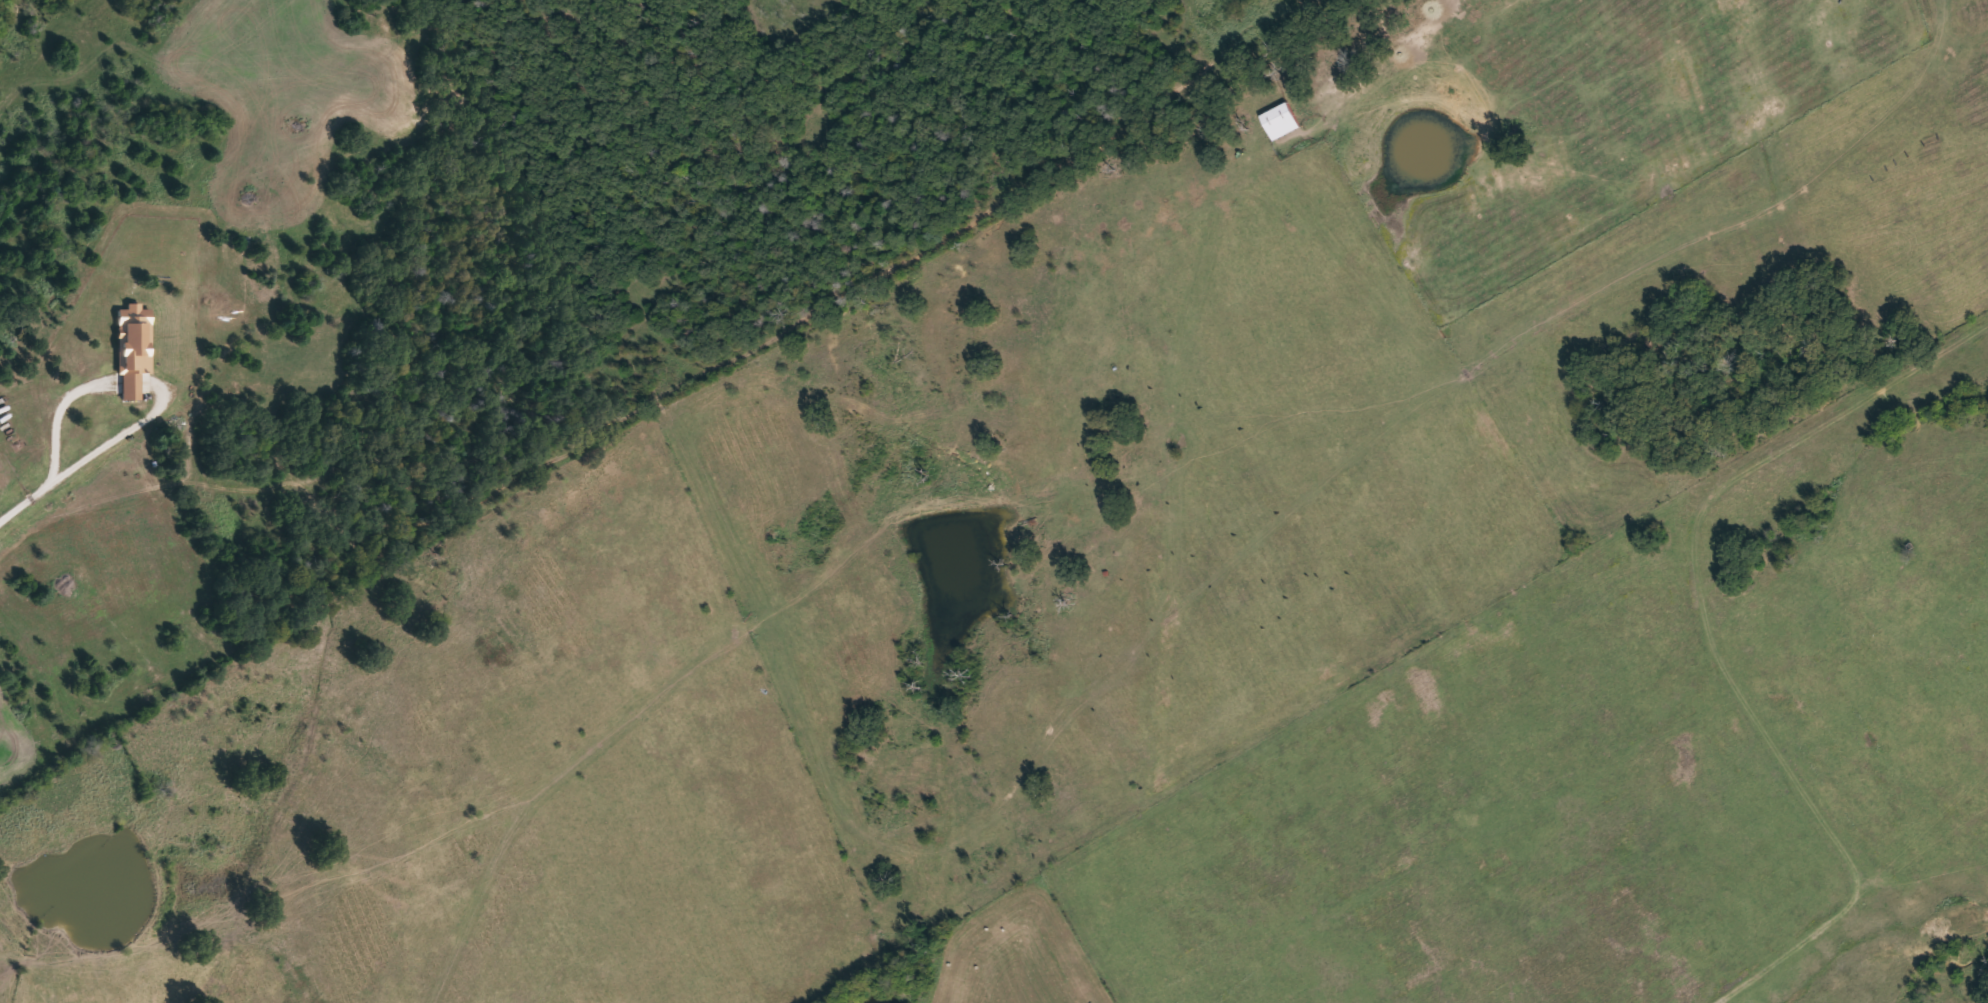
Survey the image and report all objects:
building: (1281, 120)
road: (87, 458)
road: (862, 616)
road: (1711, 637)

